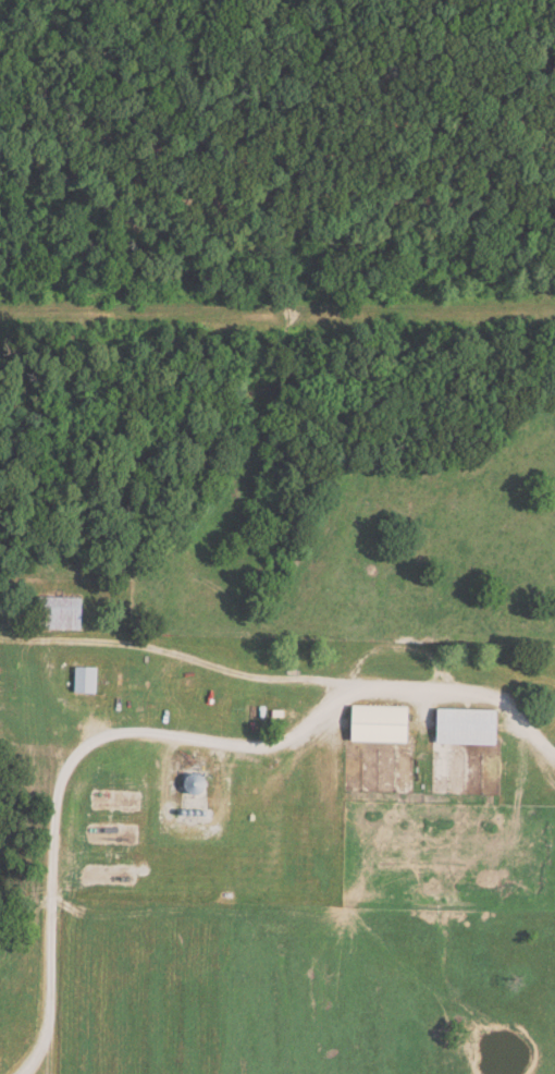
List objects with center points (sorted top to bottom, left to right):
building: (62, 612)
road: (186, 656)
building: (87, 678)
building: (387, 723)
building: (472, 725)
road: (166, 736)
building: (201, 783)

